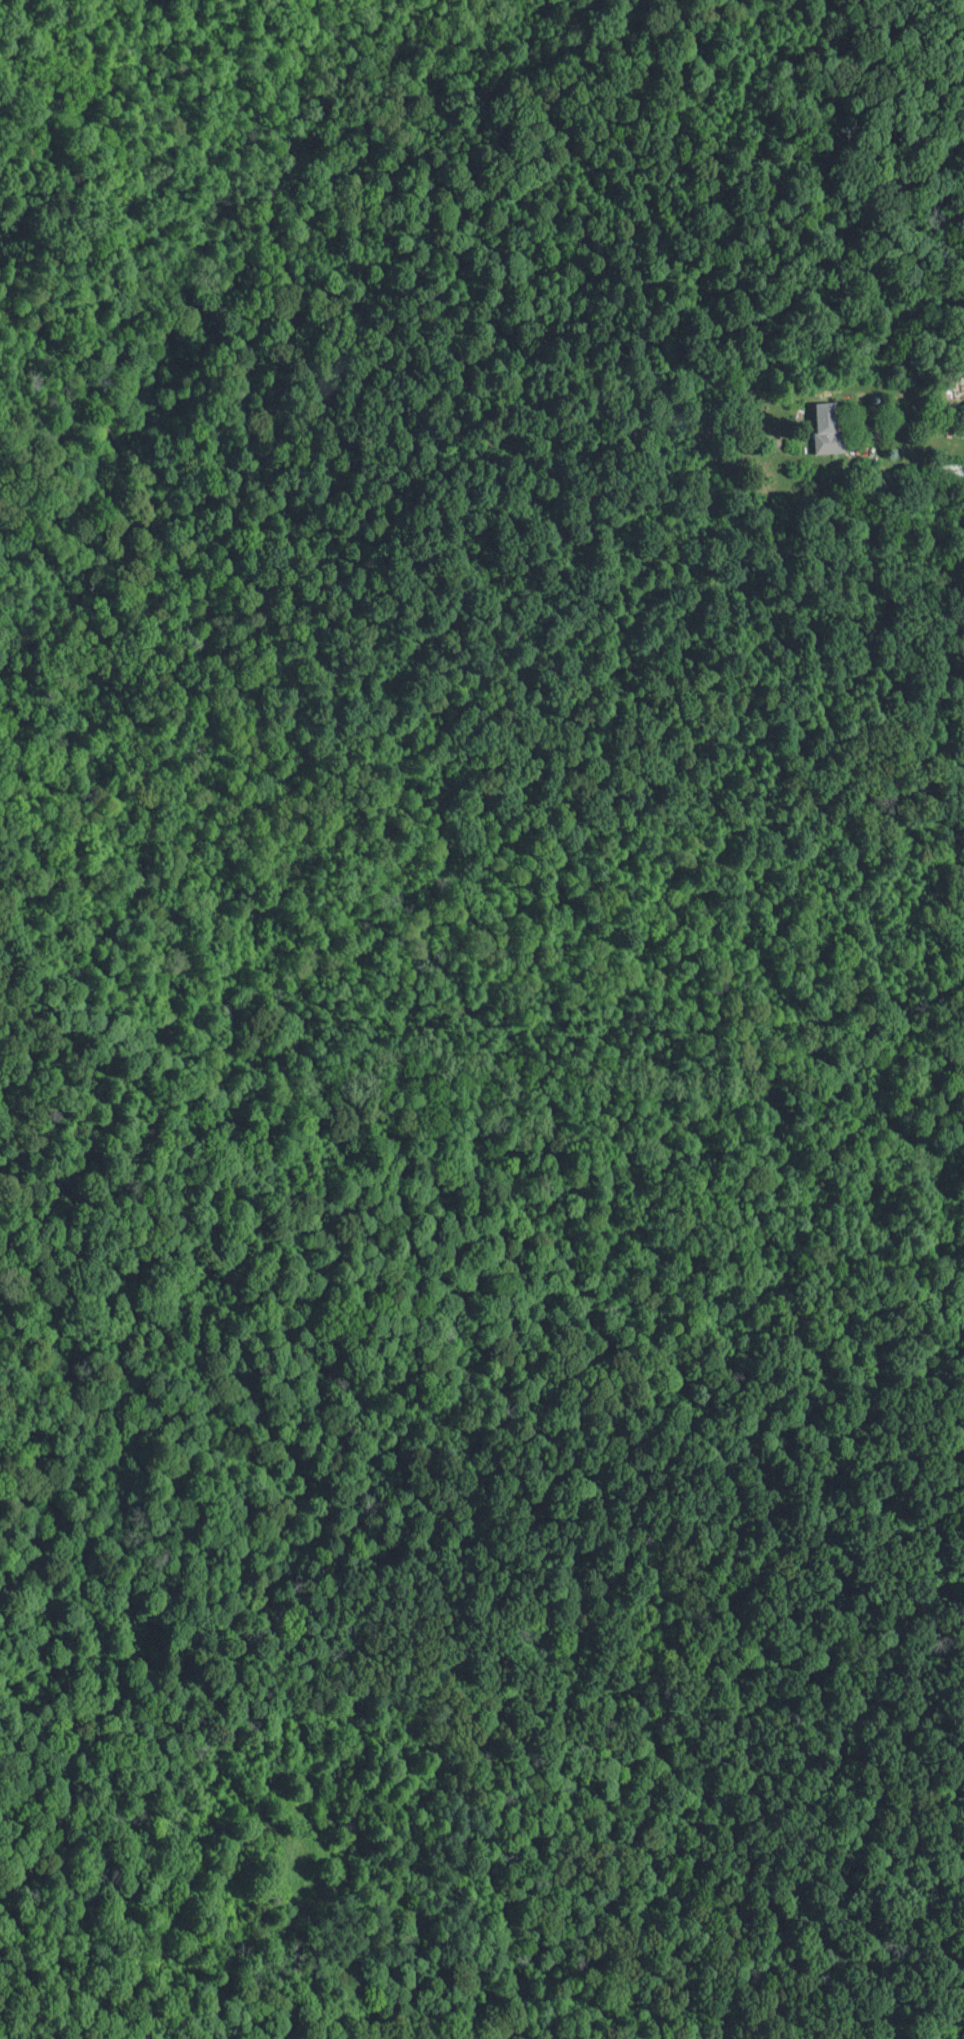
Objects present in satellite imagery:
road: (917, 421)

